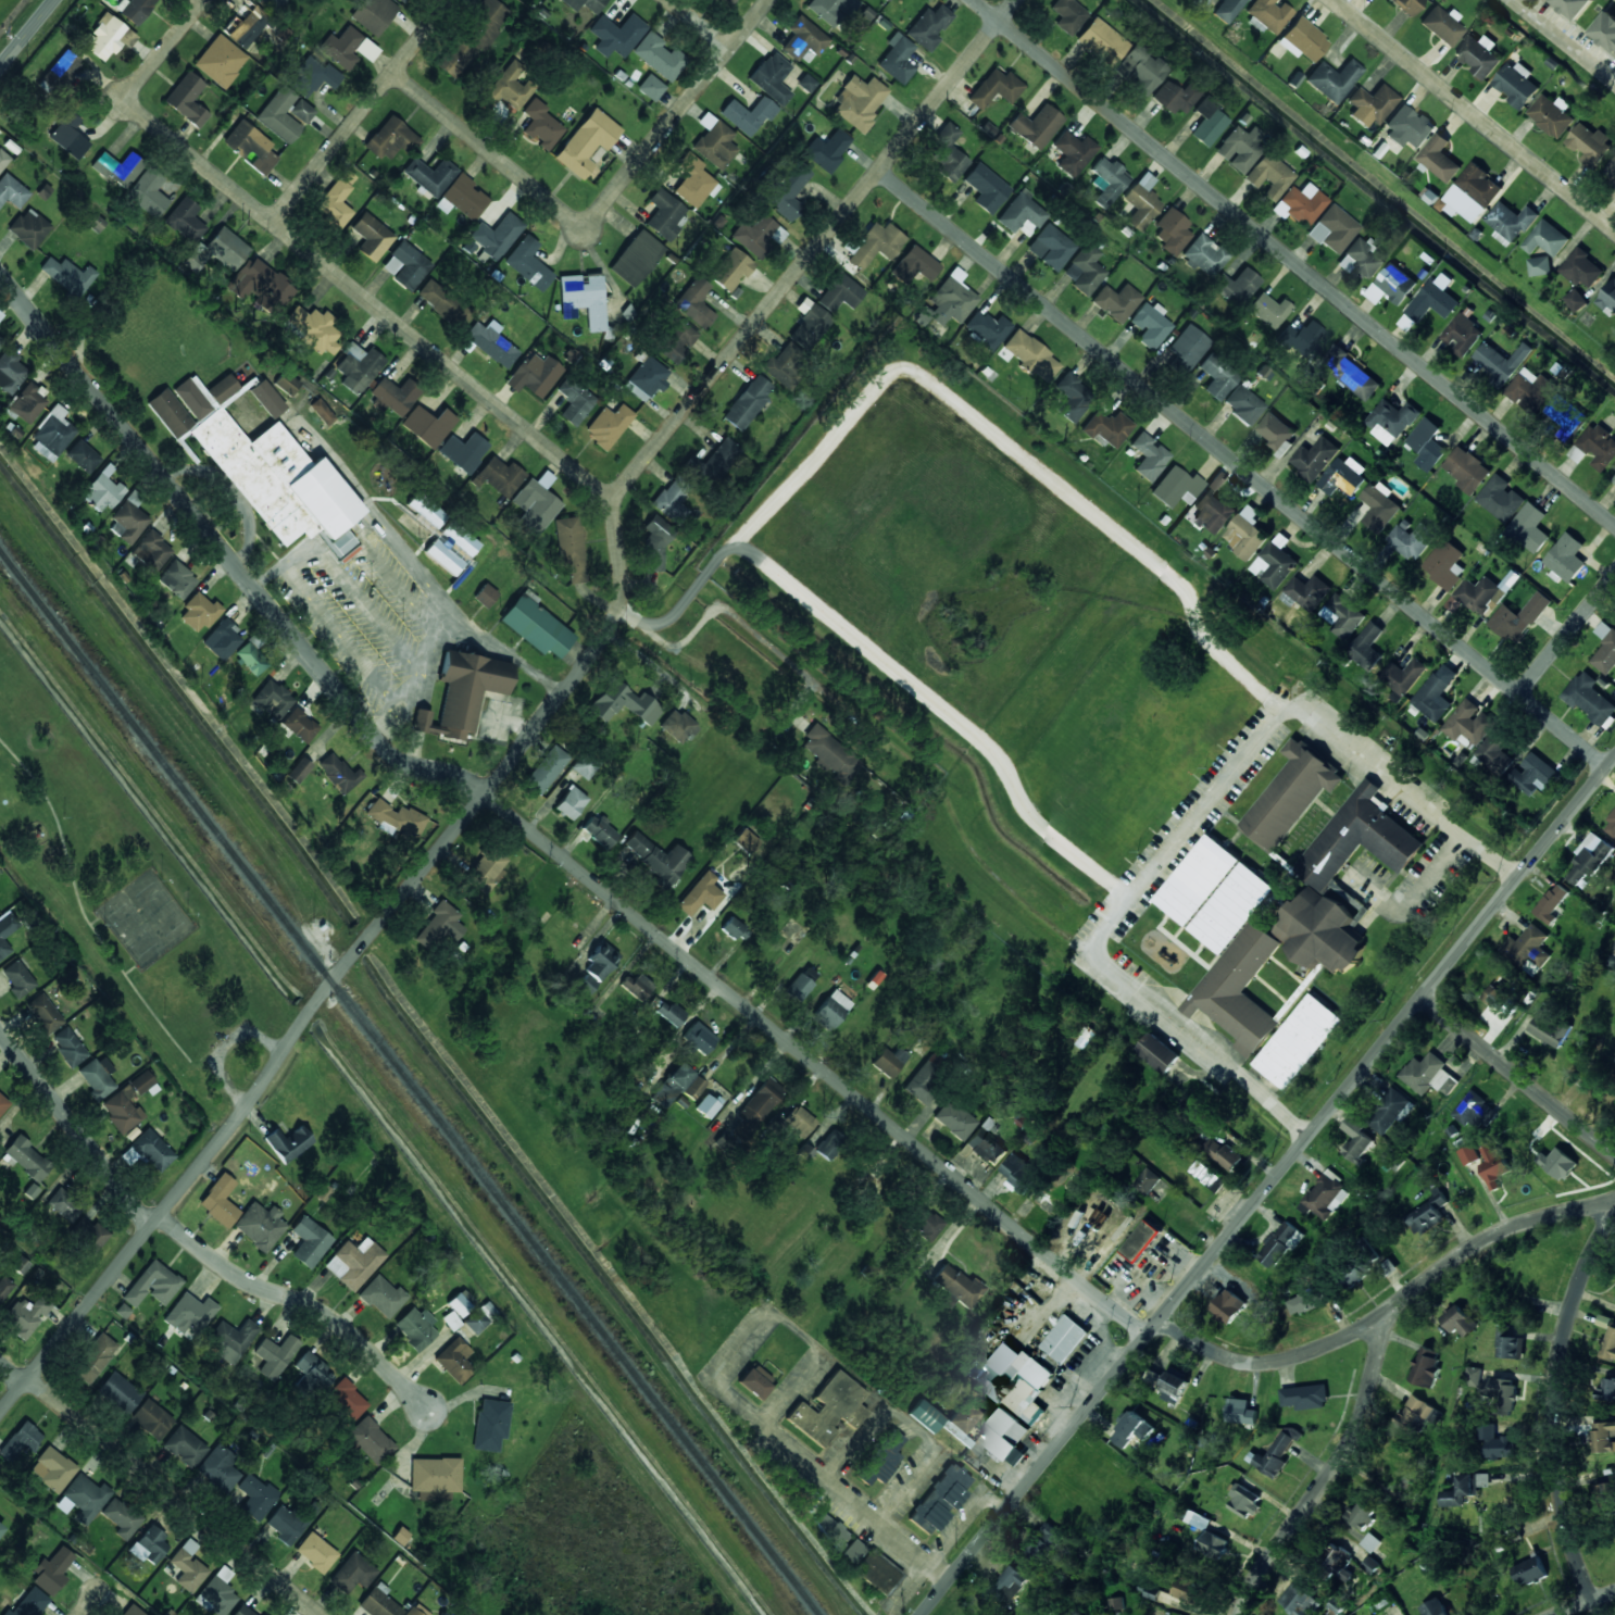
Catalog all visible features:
building: (734, 0)
building: (403, 1)
building: (273, 3)
building: (585, 4)
building: (1406, 5)
building: (1575, 7)
building: (134, 9)
building: (1227, 10)
building: (831, 11)
building: (374, 14)
building: (1268, 14)
building: (1067, 15)
building: (245, 24)
road: (699, 25)
building: (1442, 25)
building: (928, 27)
building: (1605, 30)
road: (27, 34)
building: (616, 36)
building: (108, 37)
building: (471, 38)
building: (803, 39)
building: (1302, 40)
road: (1565, 40)
building: (1101, 42)
building: (348, 49)
building: (1478, 54)
building: (659, 57)
building: (897, 59)
building: (221, 61)
building: (1140, 70)
building: (61, 71)
building: (312, 77)
building: (772, 78)
building: (1332, 79)
building: (806, 84)
building: (1516, 84)
building: (509, 87)
building: (651, 88)
building: (992, 90)
building: (1174, 97)
building: (187, 100)
building: (859, 102)
building: (1370, 105)
road: (363, 111)
building: (285, 114)
road: (677, 114)
road: (1473, 114)
building: (748, 115)
building: (1551, 115)
building: (1206, 123)
building: (541, 125)
building: (1036, 126)
building: (1407, 128)
building: (68, 137)
building: (389, 138)
building: (714, 142)
building: (587, 143)
building: (1589, 143)
building: (250, 147)
building: (1240, 148)
building: (827, 150)
road: (489, 151)
building: (1073, 153)
building: (948, 154)
building: (1439, 159)
building: (3, 160)
building: (117, 170)
building: (1611, 170)
building: (430, 176)
building: (1269, 176)
building: (693, 181)
building: (1109, 181)
building: (986, 188)
building: (788, 191)
building: (12, 192)
building: (148, 192)
building: (1473, 193)
building: (464, 197)
building: (336, 201)
building: (1141, 202)
building: (1300, 204)
building: (1021, 213)
building: (664, 215)
building: (186, 221)
building: (1510, 223)
building: (29, 229)
building: (1332, 229)
building: (1172, 231)
building: (372, 236)
building: (497, 236)
building: (758, 236)
building: (1545, 238)
building: (876, 245)
building: (1051, 248)
building: (224, 249)
building: (1204, 255)
building: (1363, 256)
building: (636, 258)
road: (321, 261)
road: (1294, 262)
building: (528, 264)
building: (1540, 265)
building: (405, 266)
building: (914, 266)
building: (1581, 268)
building: (731, 270)
building: (1084, 270)
building: (68, 276)
building: (1393, 284)
building: (1236, 287)
building: (261, 288)
building: (840, 293)
building: (438, 299)
building: (584, 299)
building: (951, 299)
building: (1576, 300)
building: (1607, 300)
building: (1116, 302)
building: (1430, 302)
building: (694, 303)
building: (1268, 310)
building: (809, 325)
building: (1151, 325)
building: (313, 329)
building: (986, 329)
building: (1462, 335)
building: (1301, 338)
building: (1, 341)
building: (675, 341)
building: (491, 345)
building: (1187, 348)
building: (1030, 355)
building: (1501, 362)
building: (786, 364)
building: (358, 367)
building: (10, 372)
building: (1351, 374)
building: (535, 376)
building: (1217, 376)
building: (646, 379)
building: (287, 384)
building: (1528, 386)
building: (190, 393)
building: (396, 397)
building: (1071, 398)
building: (267, 399)
building: (575, 401)
building: (27, 402)
building: (747, 403)
building: (168, 406)
building: (1566, 416)
building: (1391, 421)
building: (428, 426)
building: (608, 426)
building: (1107, 428)
building: (1276, 430)
building: (52, 436)
building: (1427, 445)
building: (1597, 447)
building: (463, 452)
building: (83, 456)
building: (1148, 456)
building: (1315, 458)
building: (715, 462)
building: (1467, 470)
road: (1244, 471)
building: (1343, 476)
building: (501, 477)
building: (1614, 479)
building: (1176, 487)
building: (102, 491)
building: (321, 494)
building: (1501, 499)
building: (537, 501)
building: (672, 501)
building: (1379, 506)
building: (1213, 511)
building: (128, 519)
building: (1531, 527)
building: (1247, 534)
building: (440, 537)
building: (1411, 539)
building: (654, 546)
building: (569, 548)
building: (152, 552)
building: (1566, 558)
building: (1275, 562)
building: (1445, 564)
building: (177, 579)
building: (1306, 592)
building: (486, 596)
building: (1482, 596)
building: (199, 613)
building: (1342, 616)
building: (1519, 617)
building: (536, 627)
road: (1567, 635)
building: (223, 640)
building: (1366, 647)
building: (1605, 649)
building: (251, 660)
building: (1404, 675)
building: (463, 693)
building: (1436, 693)
building: (1589, 698)
building: (273, 700)
building: (623, 704)
road: (543, 716)
building: (1469, 724)
building: (300, 725)
building: (678, 727)
building: (1495, 752)
building: (830, 754)
building: (586, 764)
building: (299, 771)
building: (546, 771)
building: (339, 774)
building: (1533, 775)
building: (1291, 794)
building: (571, 803)
building: (395, 818)
building: (600, 831)
road: (540, 838)
building: (746, 841)
building: (656, 857)
building: (1587, 861)
building: (489, 868)
building: (1319, 877)
building: (700, 894)
building: (1184, 897)
park: (125, 901)
building: (1552, 902)
building: (440, 925)
building: (735, 929)
building: (7, 932)
building: (1529, 949)
building: (1613, 956)
building: (1237, 960)
building: (601, 961)
building: (17, 979)
road: (1119, 982)
building: (801, 984)
building: (586, 985)
building: (637, 987)
building: (1499, 999)
building: (830, 1011)
building: (669, 1013)
building: (45, 1014)
building: (1549, 1029)
building: (700, 1038)
building: (1299, 1041)
building: (71, 1047)
building: (1159, 1053)
building: (888, 1062)
building: (1429, 1075)
building: (98, 1077)
road: (1519, 1077)
building: (143, 1084)
building: (924, 1084)
railway: (409, 1085)
building: (673, 1086)
building: (694, 1089)
building: (3, 1104)
building: (708, 1105)
building: (758, 1106)
building: (122, 1111)
building: (1388, 1111)
building: (1476, 1111)
building: (954, 1119)
building: (799, 1123)
building: (1356, 1140)
building: (288, 1143)
building: (829, 1144)
building: (986, 1147)
building: (152, 1151)
building: (804, 1153)
building: (1224, 1154)
building: (1469, 1154)
building: (26, 1159)
building: (1558, 1164)
building: (1494, 1166)
building: (1019, 1174)
building: (1209, 1176)
building: (1148, 1181)
road: (1270, 1190)
building: (32, 1191)
building: (324, 1193)
building: (1326, 1198)
building: (220, 1201)
building: (64, 1205)
building: (1427, 1214)
building: (926, 1225)
building: (260, 1226)
building: (88, 1235)
building: (1141, 1241)
building: (309, 1242)
road: (195, 1243)
building: (1280, 1245)
building: (354, 1263)
building: (21, 1265)
building: (1388, 1267)
building: (1356, 1276)
building: (153, 1285)
building: (956, 1287)
building: (4, 1288)
building: (383, 1297)
building: (1304, 1302)
building: (1228, 1306)
road: (1392, 1309)
building: (458, 1310)
building: (190, 1314)
building: (26, 1316)
building: (1458, 1320)
building: (476, 1323)
building: (415, 1328)
building: (1065, 1339)
building: (231, 1340)
building: (1510, 1344)
building: (1610, 1344)
building: (275, 1356)
building: (95, 1359)
building: (454, 1361)
building: (1426, 1367)
building: (313, 1370)
building: (1473, 1376)
building: (1013, 1380)
building: (756, 1381)
building: (1174, 1388)
building: (1607, 1390)
building: (120, 1392)
building: (1504, 1393)
building: (1304, 1397)
building: (347, 1400)
road: (916, 1404)
building: (830, 1410)
building: (1241, 1412)
building: (1419, 1414)
road: (1557, 1414)
building: (943, 1418)
building: (152, 1419)
building: (491, 1425)
building: (1132, 1429)
building: (1006, 1437)
building: (1603, 1437)
building: (21, 1441)
building: (371, 1441)
building: (1497, 1442)
building: (185, 1447)
building: (1276, 1453)
building: (885, 1456)
building: (220, 1468)
building: (52, 1469)
road: (1331, 1475)
building: (435, 1478)
road: (160, 1485)
building: (1464, 1489)
building: (1605, 1493)
building: (256, 1497)
building: (83, 1499)
building: (940, 1500)
building: (1244, 1501)
building: (1360, 1516)
building: (122, 1518)
building: (1197, 1519)
building: (287, 1525)
building: (1, 1530)
building: (830, 1530)
building: (1370, 1542)
building: (1044, 1544)
building: (1214, 1544)
building: (150, 1547)
building: (852, 1552)
building: (315, 1553)
building: (1339, 1565)
building: (187, 1566)
building: (52, 1572)
building: (1529, 1572)
building: (876, 1573)
building: (353, 1574)
building: (1009, 1585)
building: (1186, 1588)
building: (1300, 1601)
building: (378, 1602)
road: (1589, 1602)
building: (29, 1603)
building: (1116, 1603)
road: (88, 1605)
building: (1435, 1607)
building: (133, 1611)
building: (242, 1611)
building: (412, 1612)
building: (1106, 1614)

